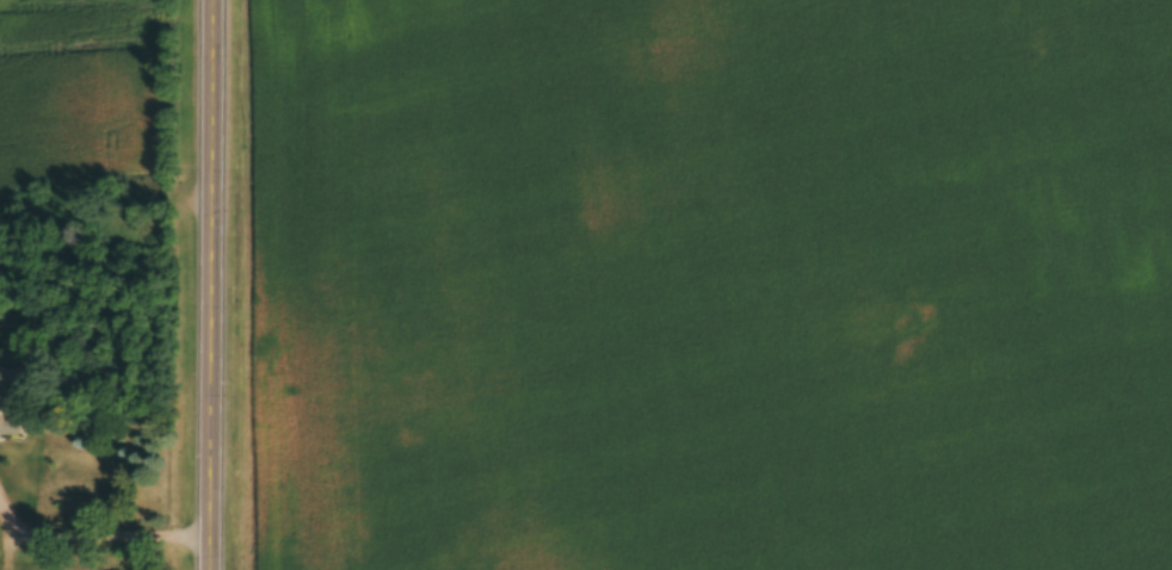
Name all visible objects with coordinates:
road: (205, 285)
road: (93, 539)

